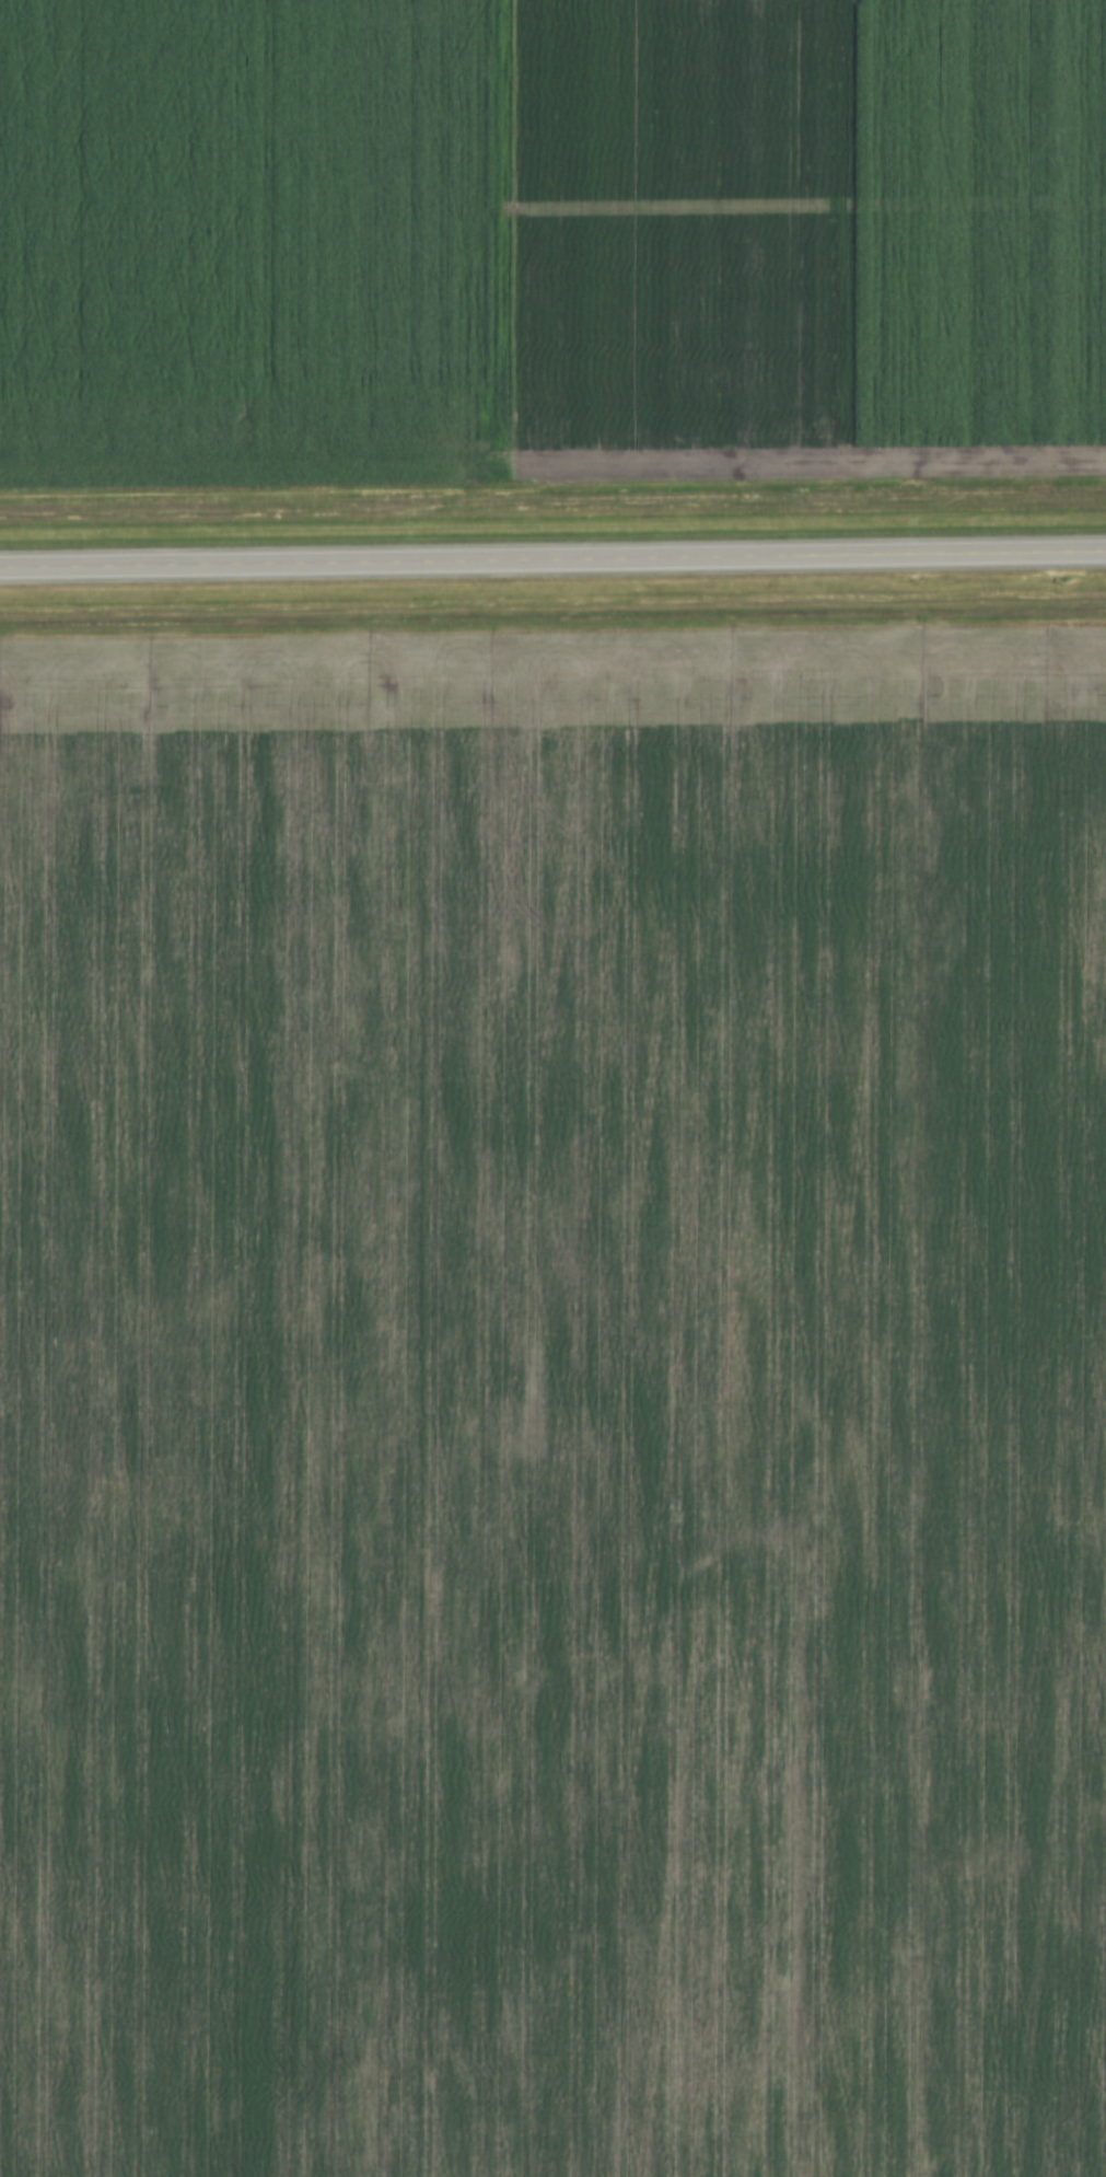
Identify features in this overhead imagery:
road: (552, 569)

